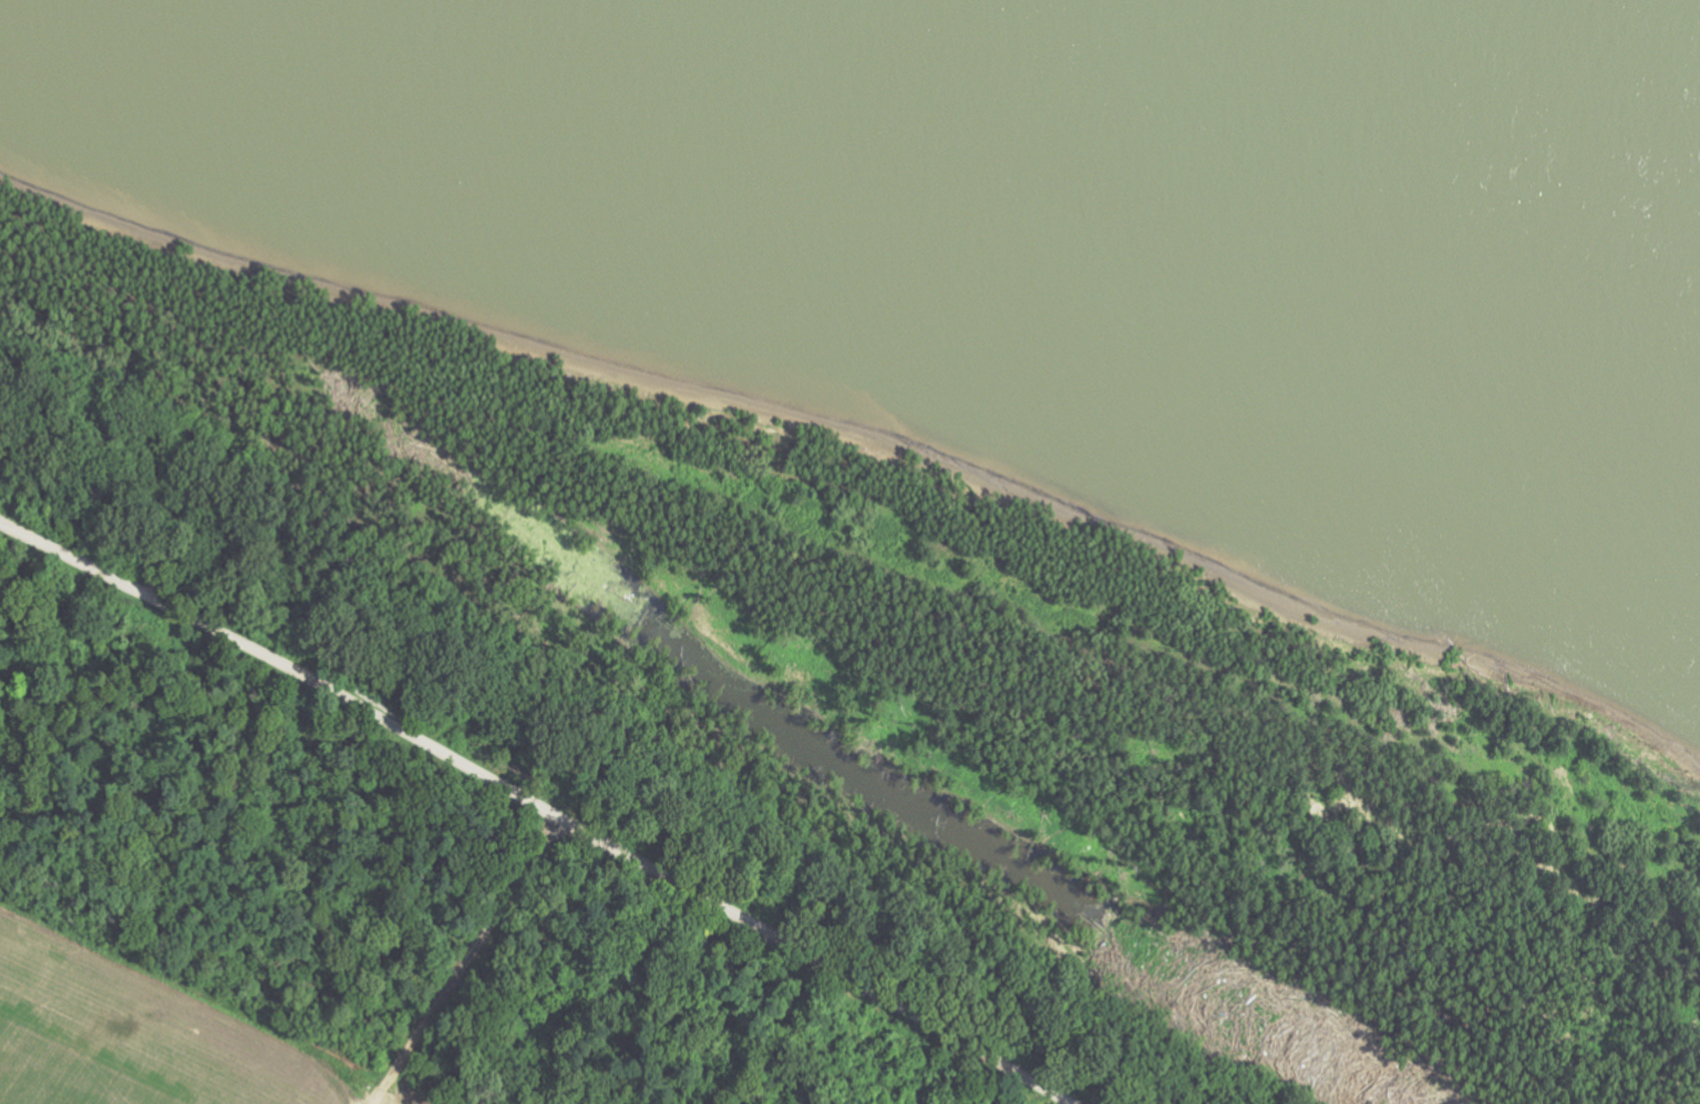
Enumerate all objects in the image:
river: (1617, 39)
road: (537, 808)

